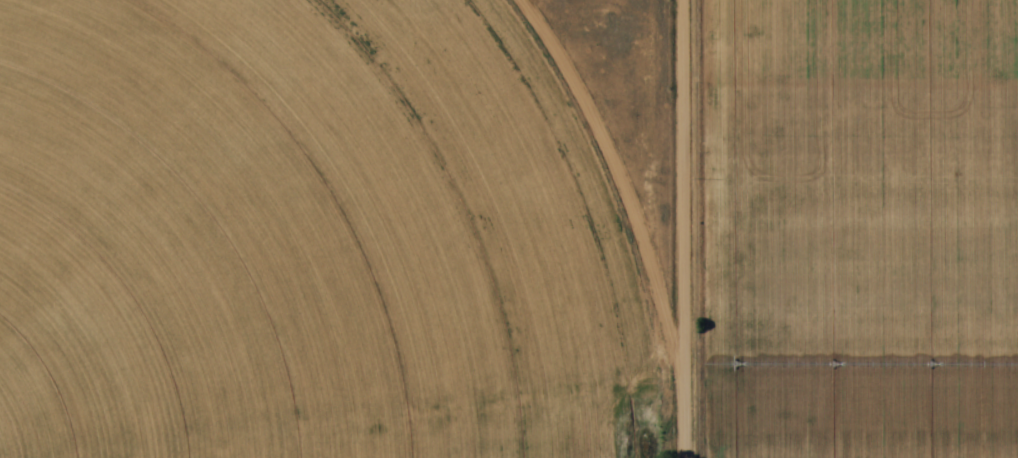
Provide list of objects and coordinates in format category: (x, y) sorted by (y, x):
road: (683, 115)
road: (678, 344)

